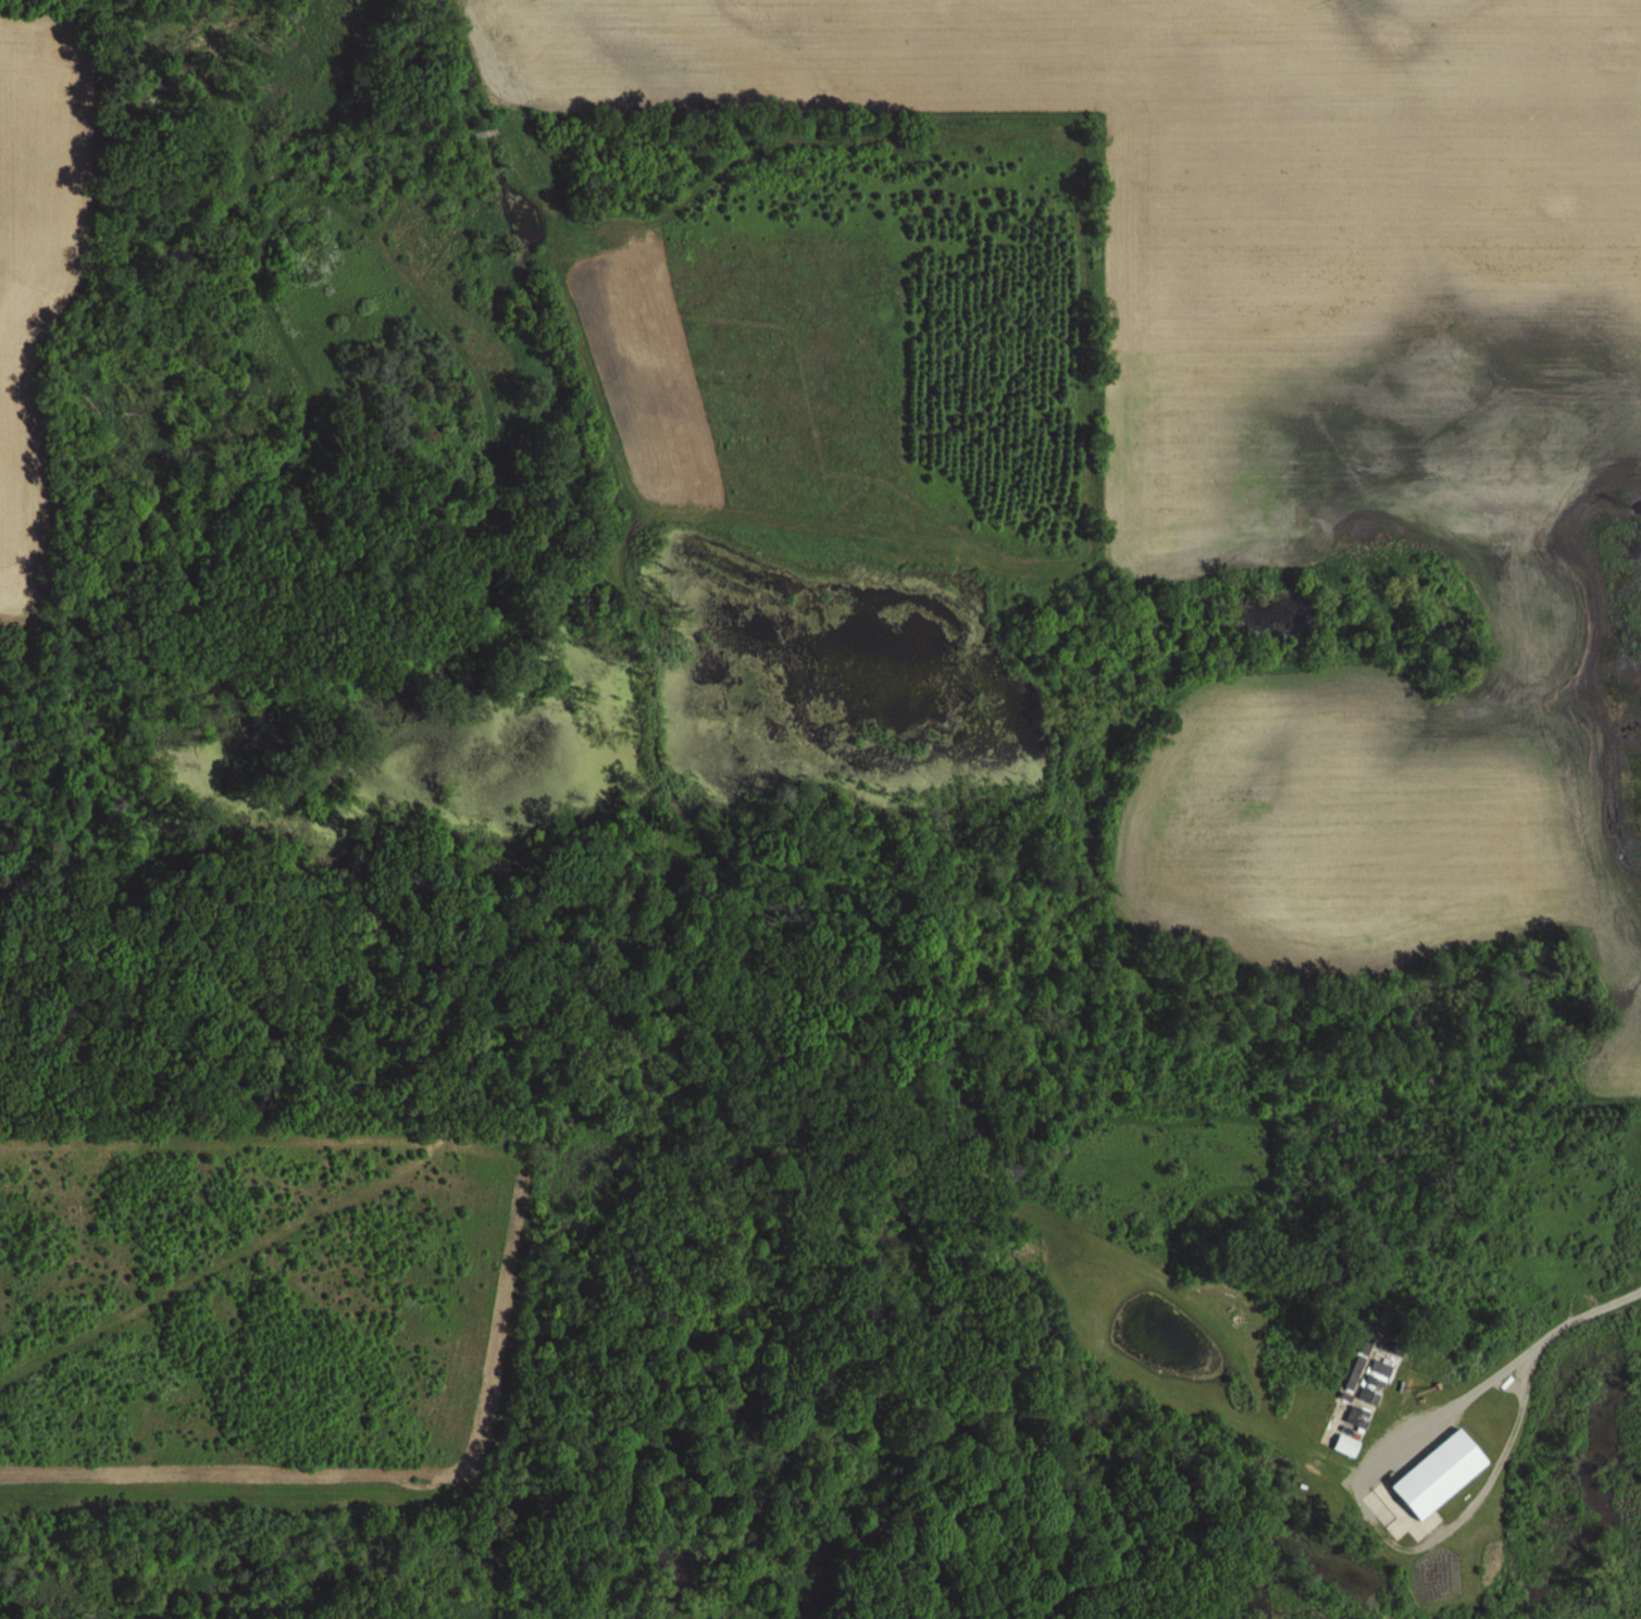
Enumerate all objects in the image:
road: (1506, 1369)
building: (1368, 1375)
building: (1346, 1444)
building: (1441, 1472)

